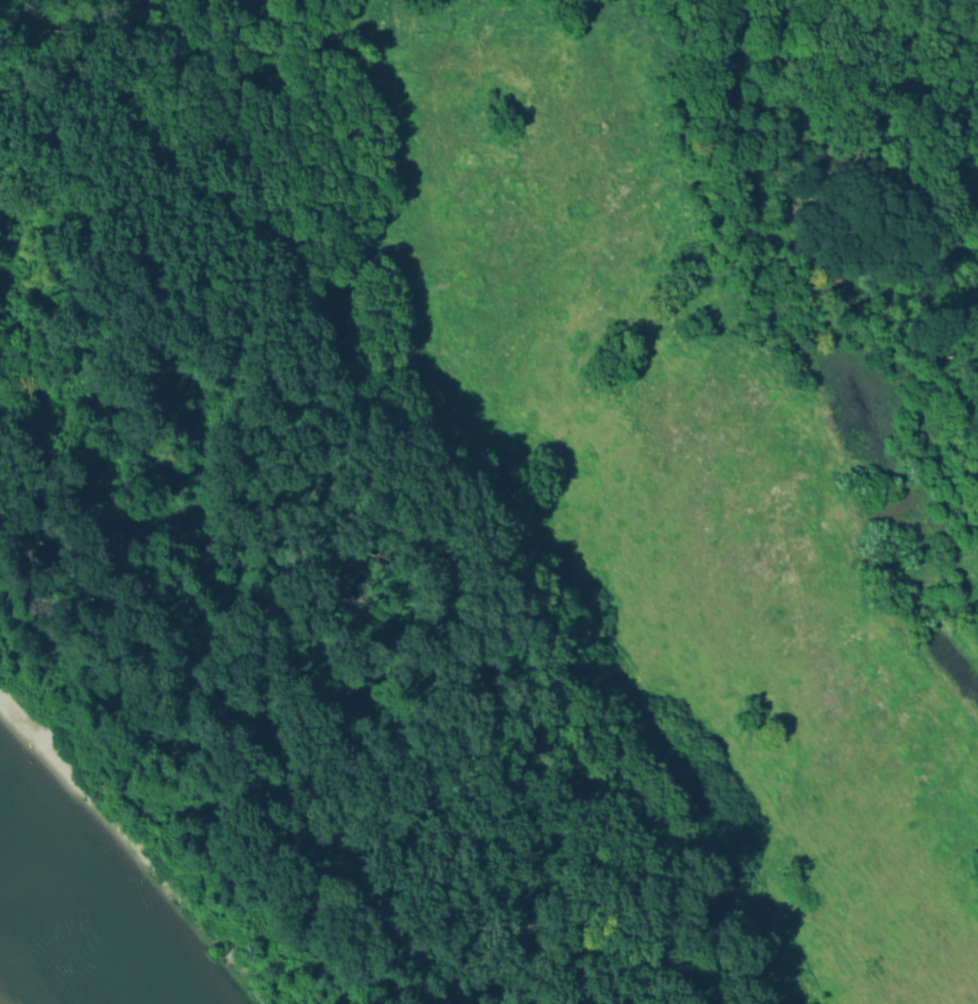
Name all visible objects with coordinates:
river: (18, 982)

